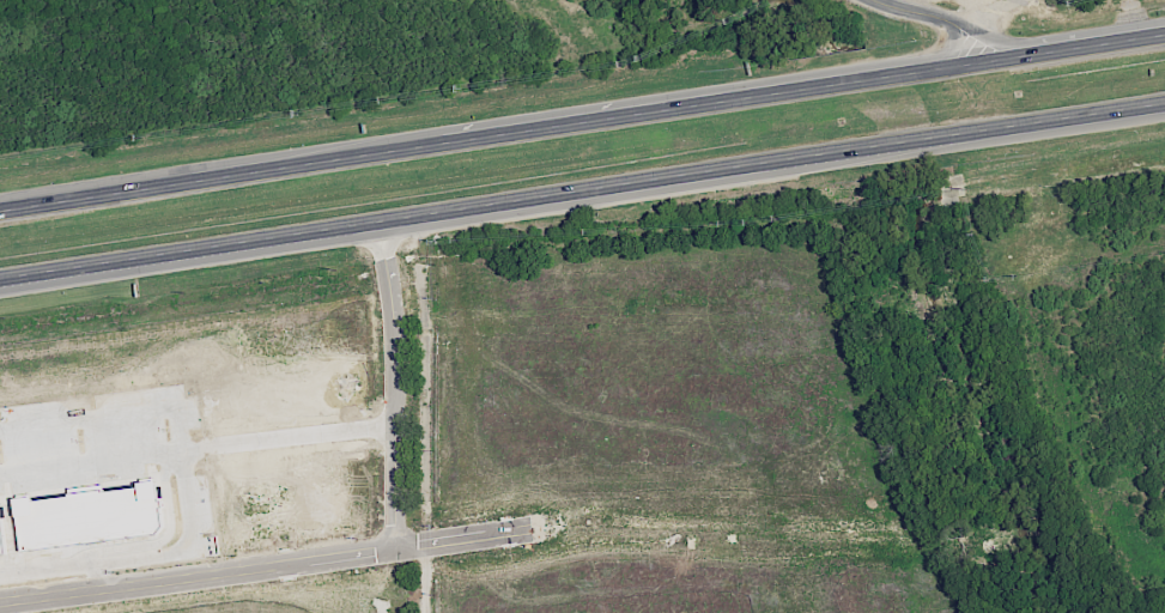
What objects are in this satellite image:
road: (911, 11)
road: (981, 13)
road: (987, 36)
road: (953, 37)
road: (1069, 47)
road: (765, 80)
road: (672, 107)
road: (1075, 114)
road: (681, 174)
road: (184, 181)
road: (189, 248)
road: (396, 382)
road: (87, 418)
road: (198, 450)
road: (184, 478)
building: (85, 512)
road: (96, 560)
road: (265, 564)
road: (97, 575)

